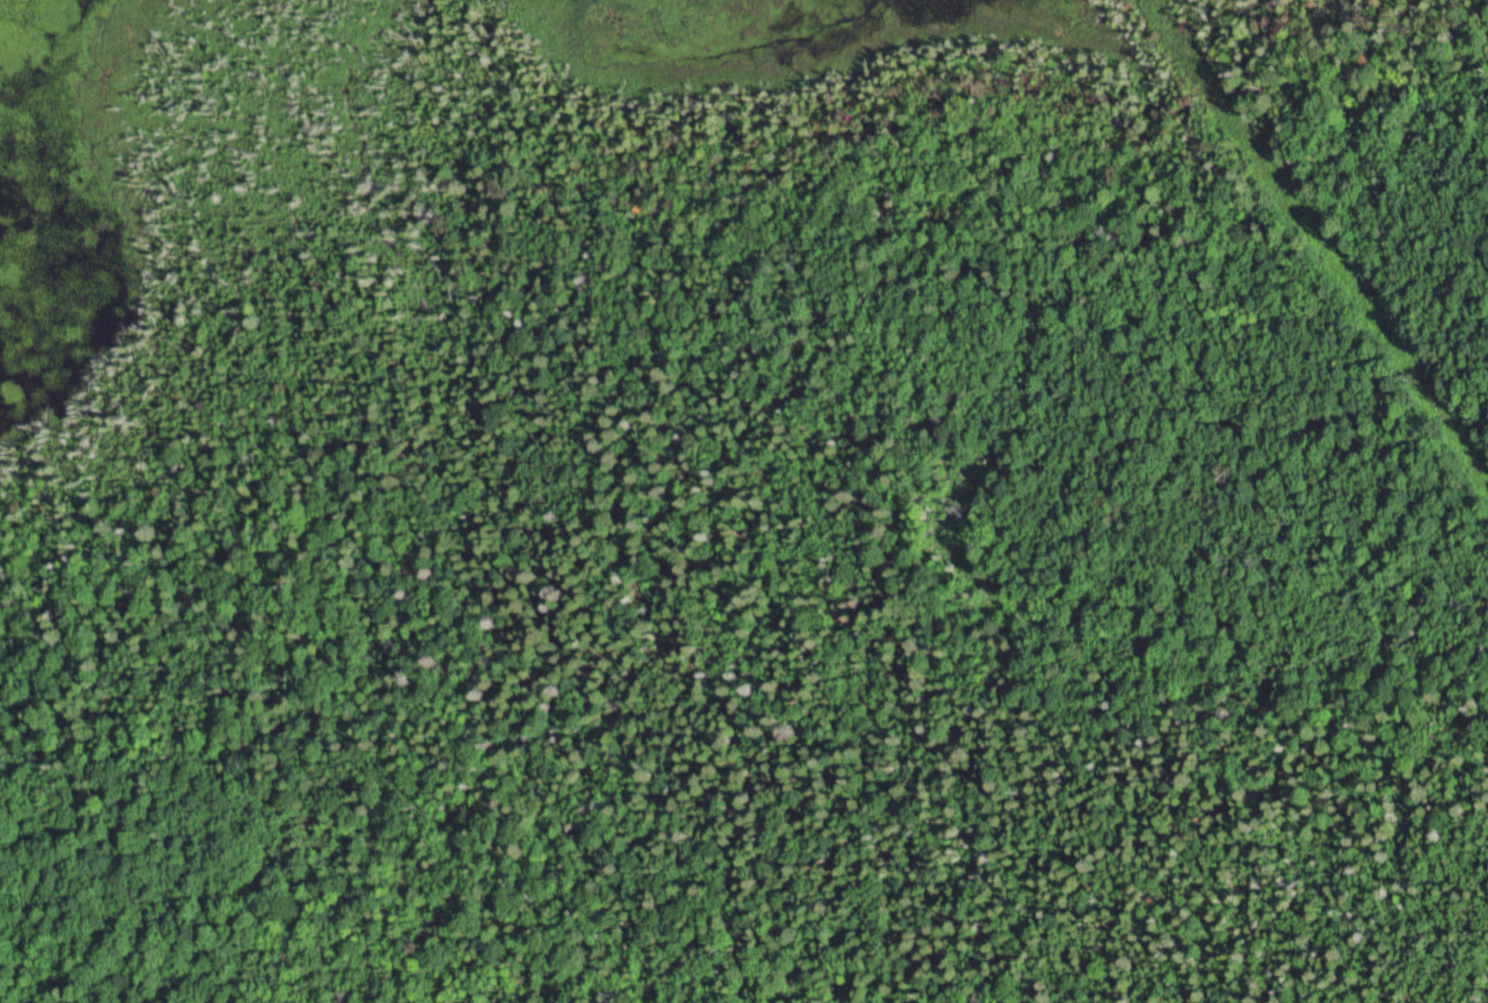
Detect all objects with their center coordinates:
road: (1303, 213)
road: (15, 942)

